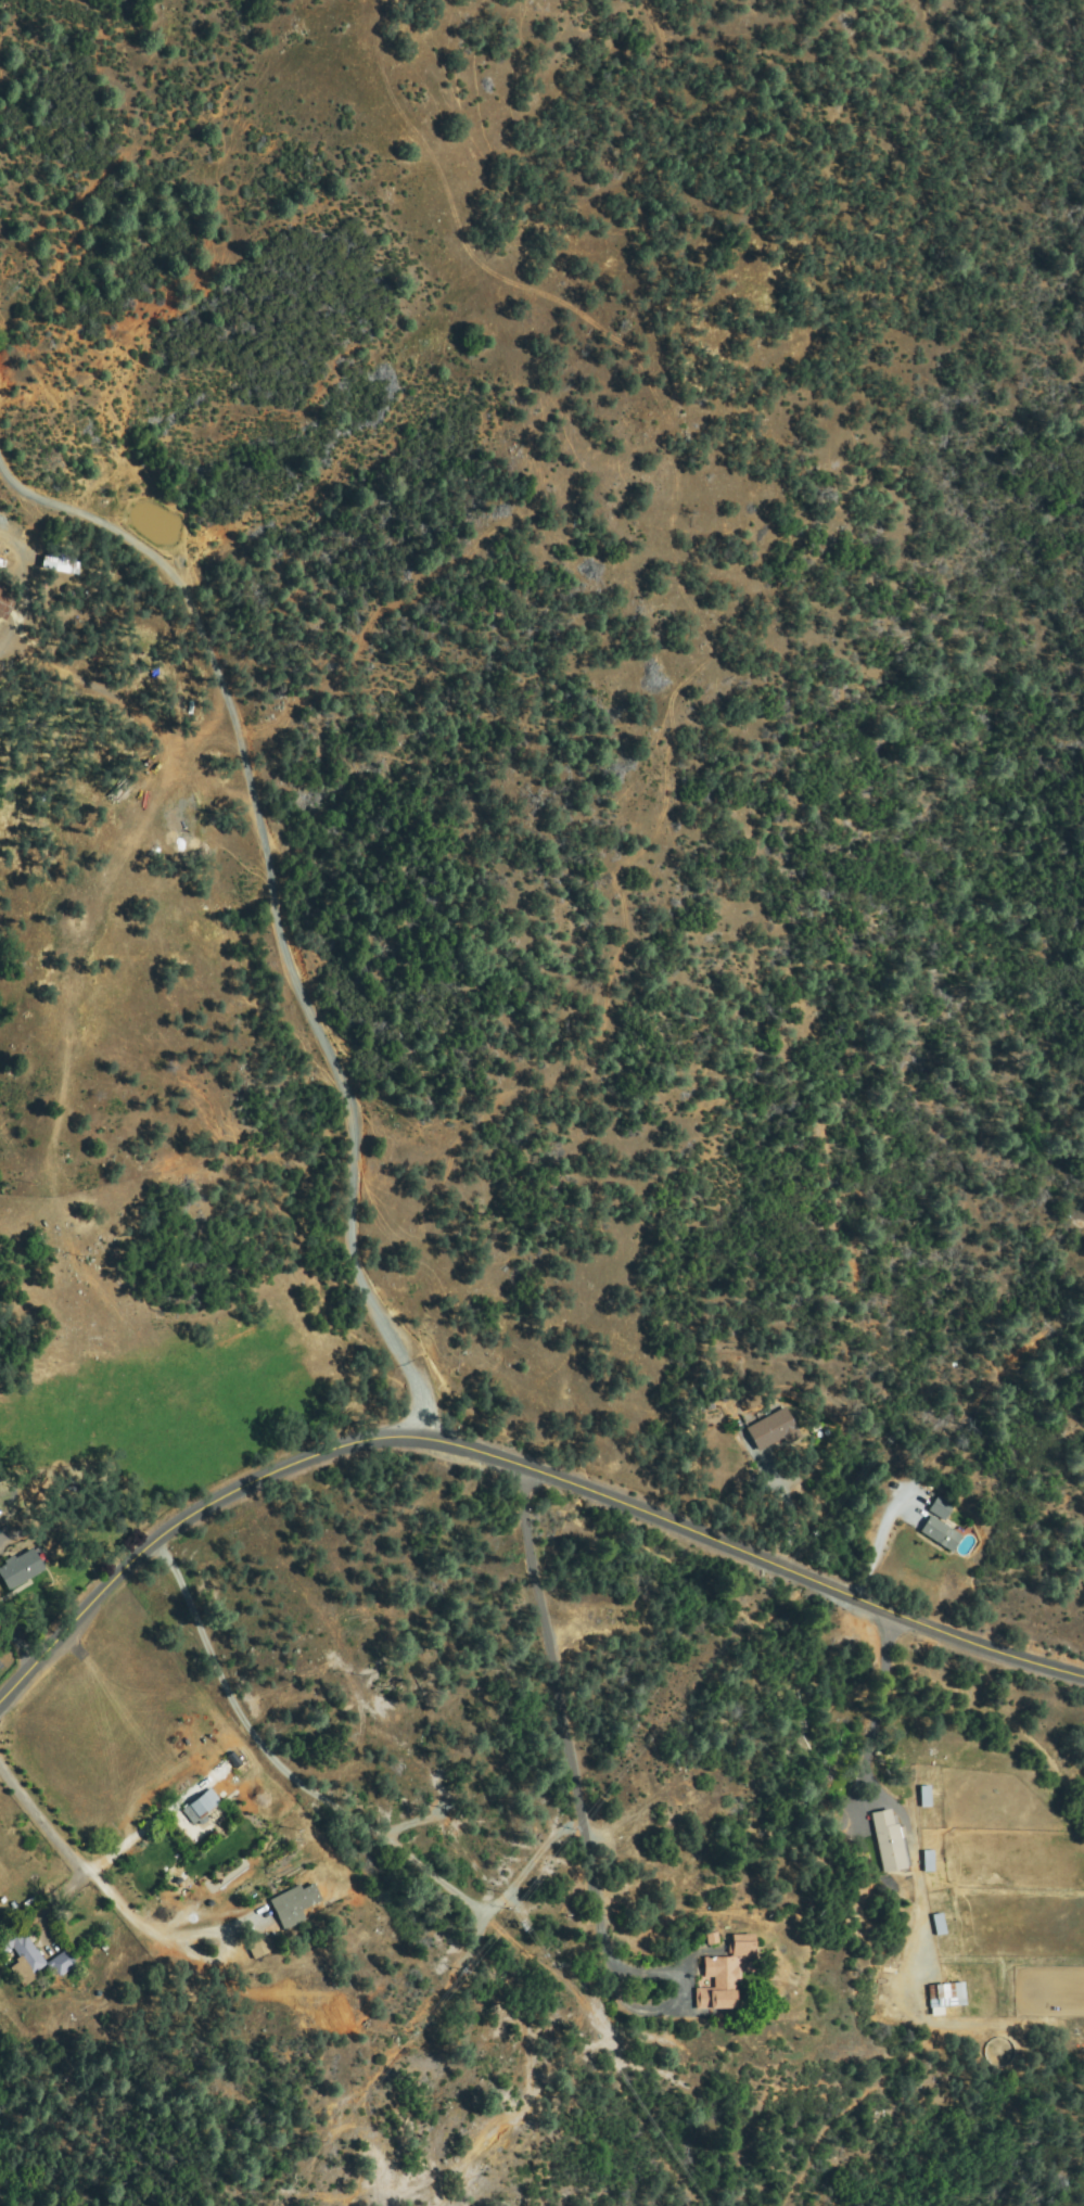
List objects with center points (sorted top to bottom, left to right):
building: (61, 563)
building: (4, 602)
road: (275, 898)
building: (771, 1431)
road: (517, 1468)
building: (940, 1507)
building: (940, 1533)
building: (20, 1569)
building: (924, 1797)
building: (202, 1807)
building: (889, 1841)
building: (928, 1861)
building: (295, 1902)
building: (939, 1925)
building: (257, 1946)
building: (741, 1946)
building: (18, 1949)
building: (62, 1962)
building: (718, 1984)
building: (887, 1991)
building: (946, 1998)

